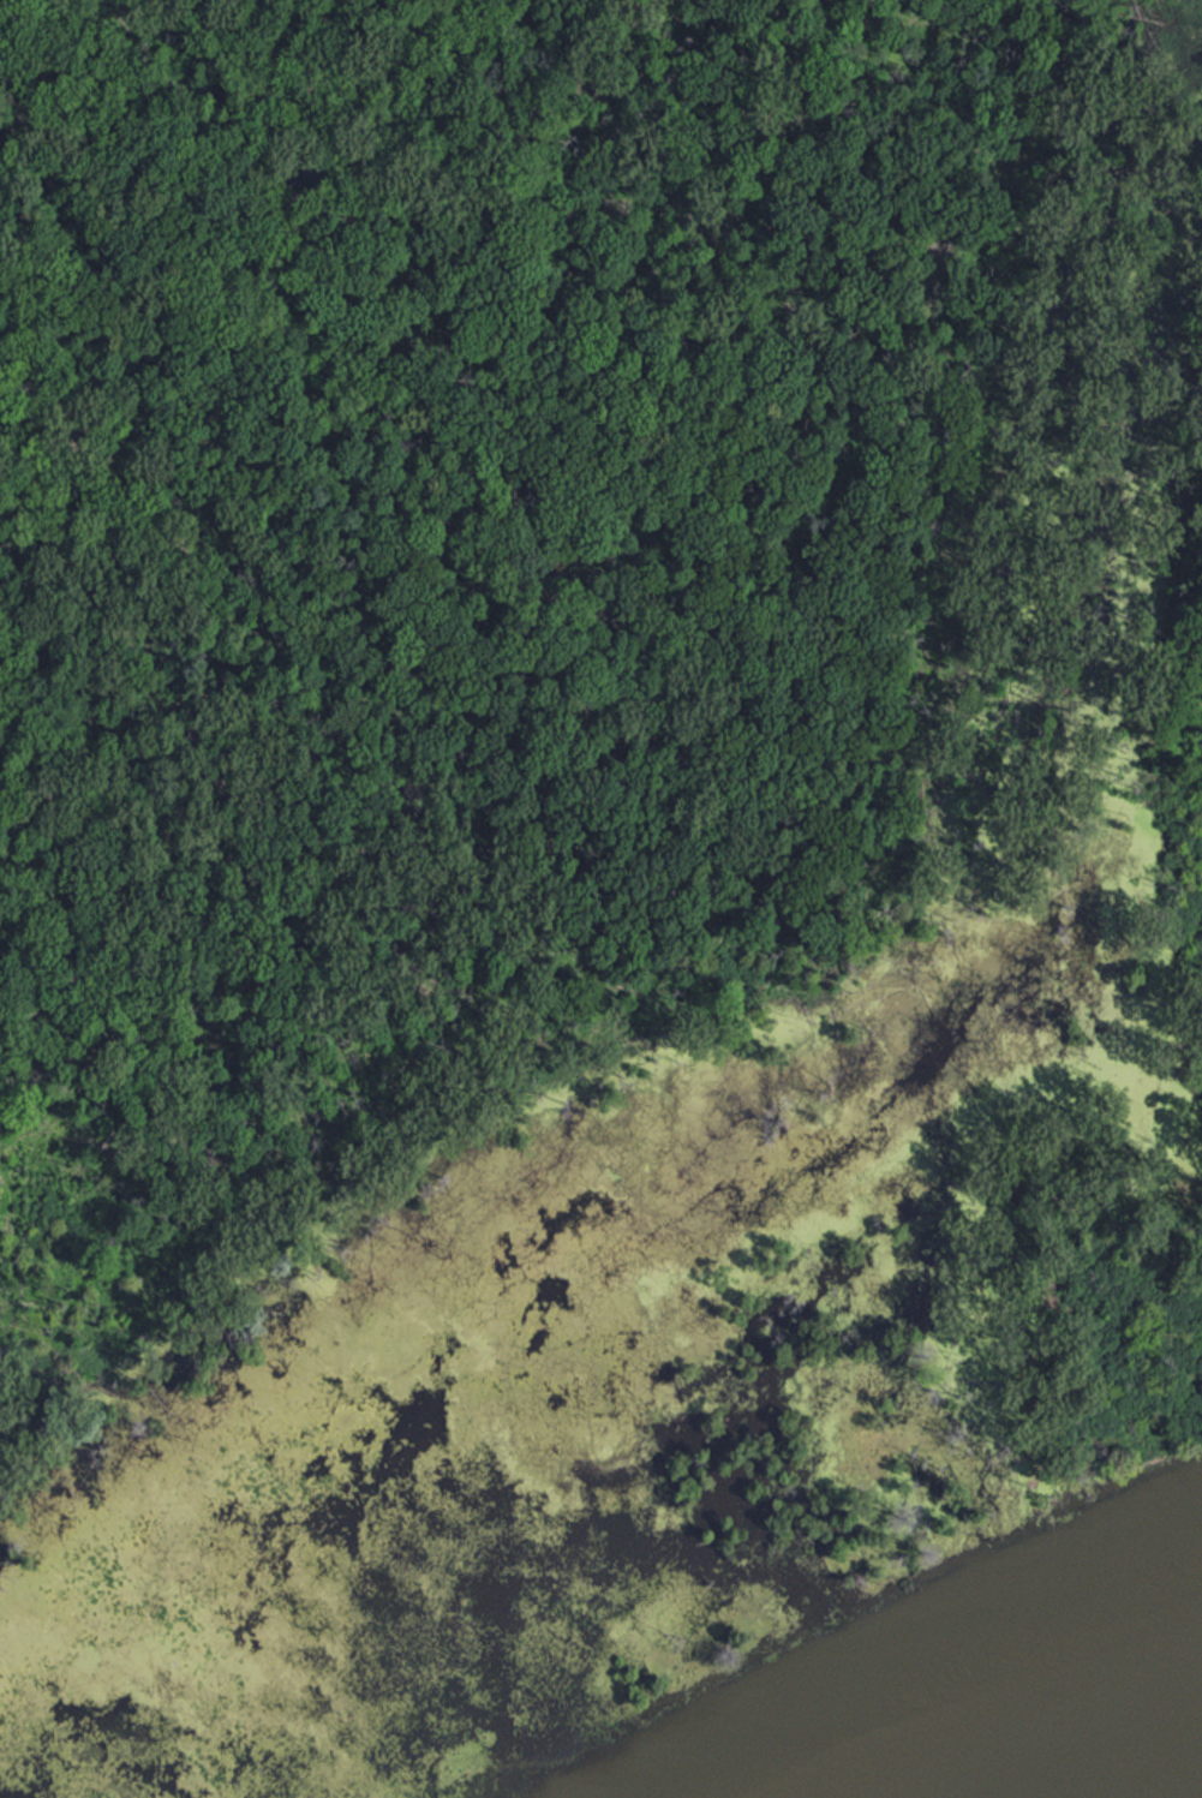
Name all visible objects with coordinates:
river: (1077, 1743)

